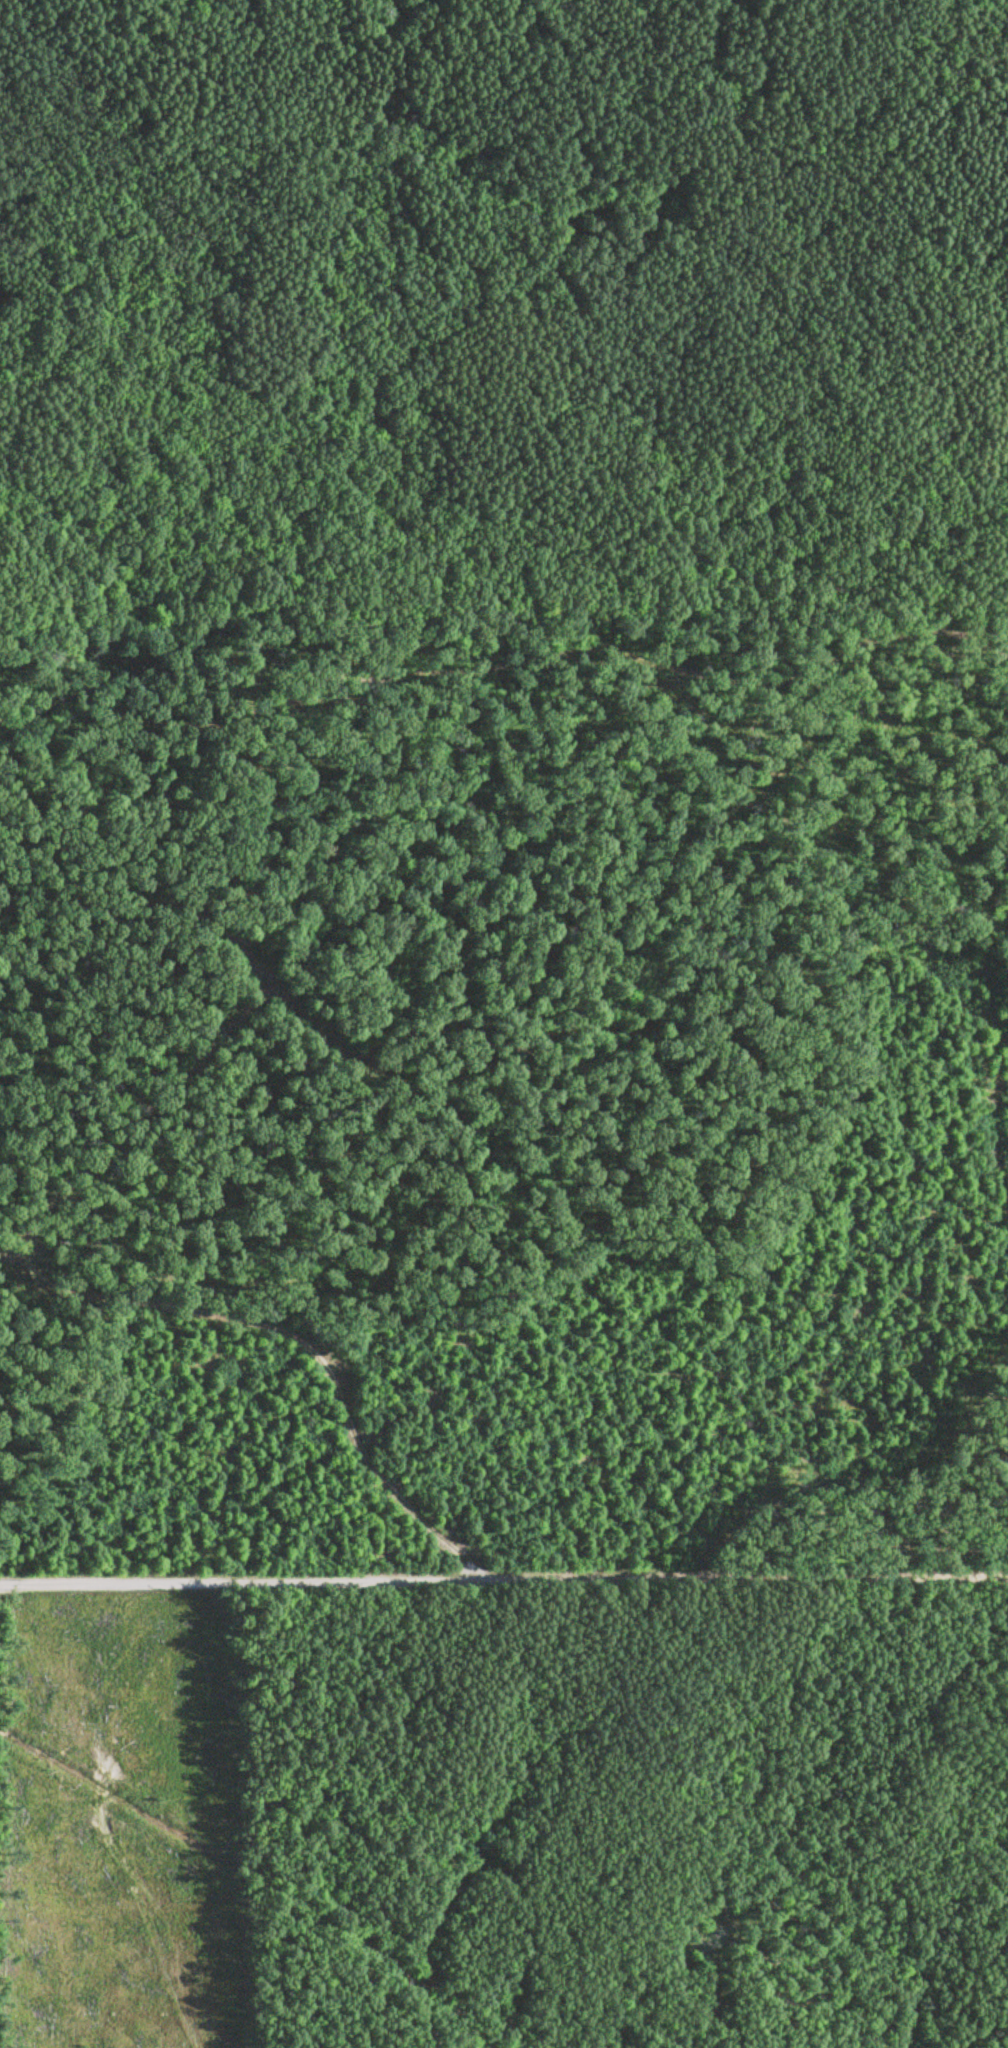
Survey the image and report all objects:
road: (504, 1583)

